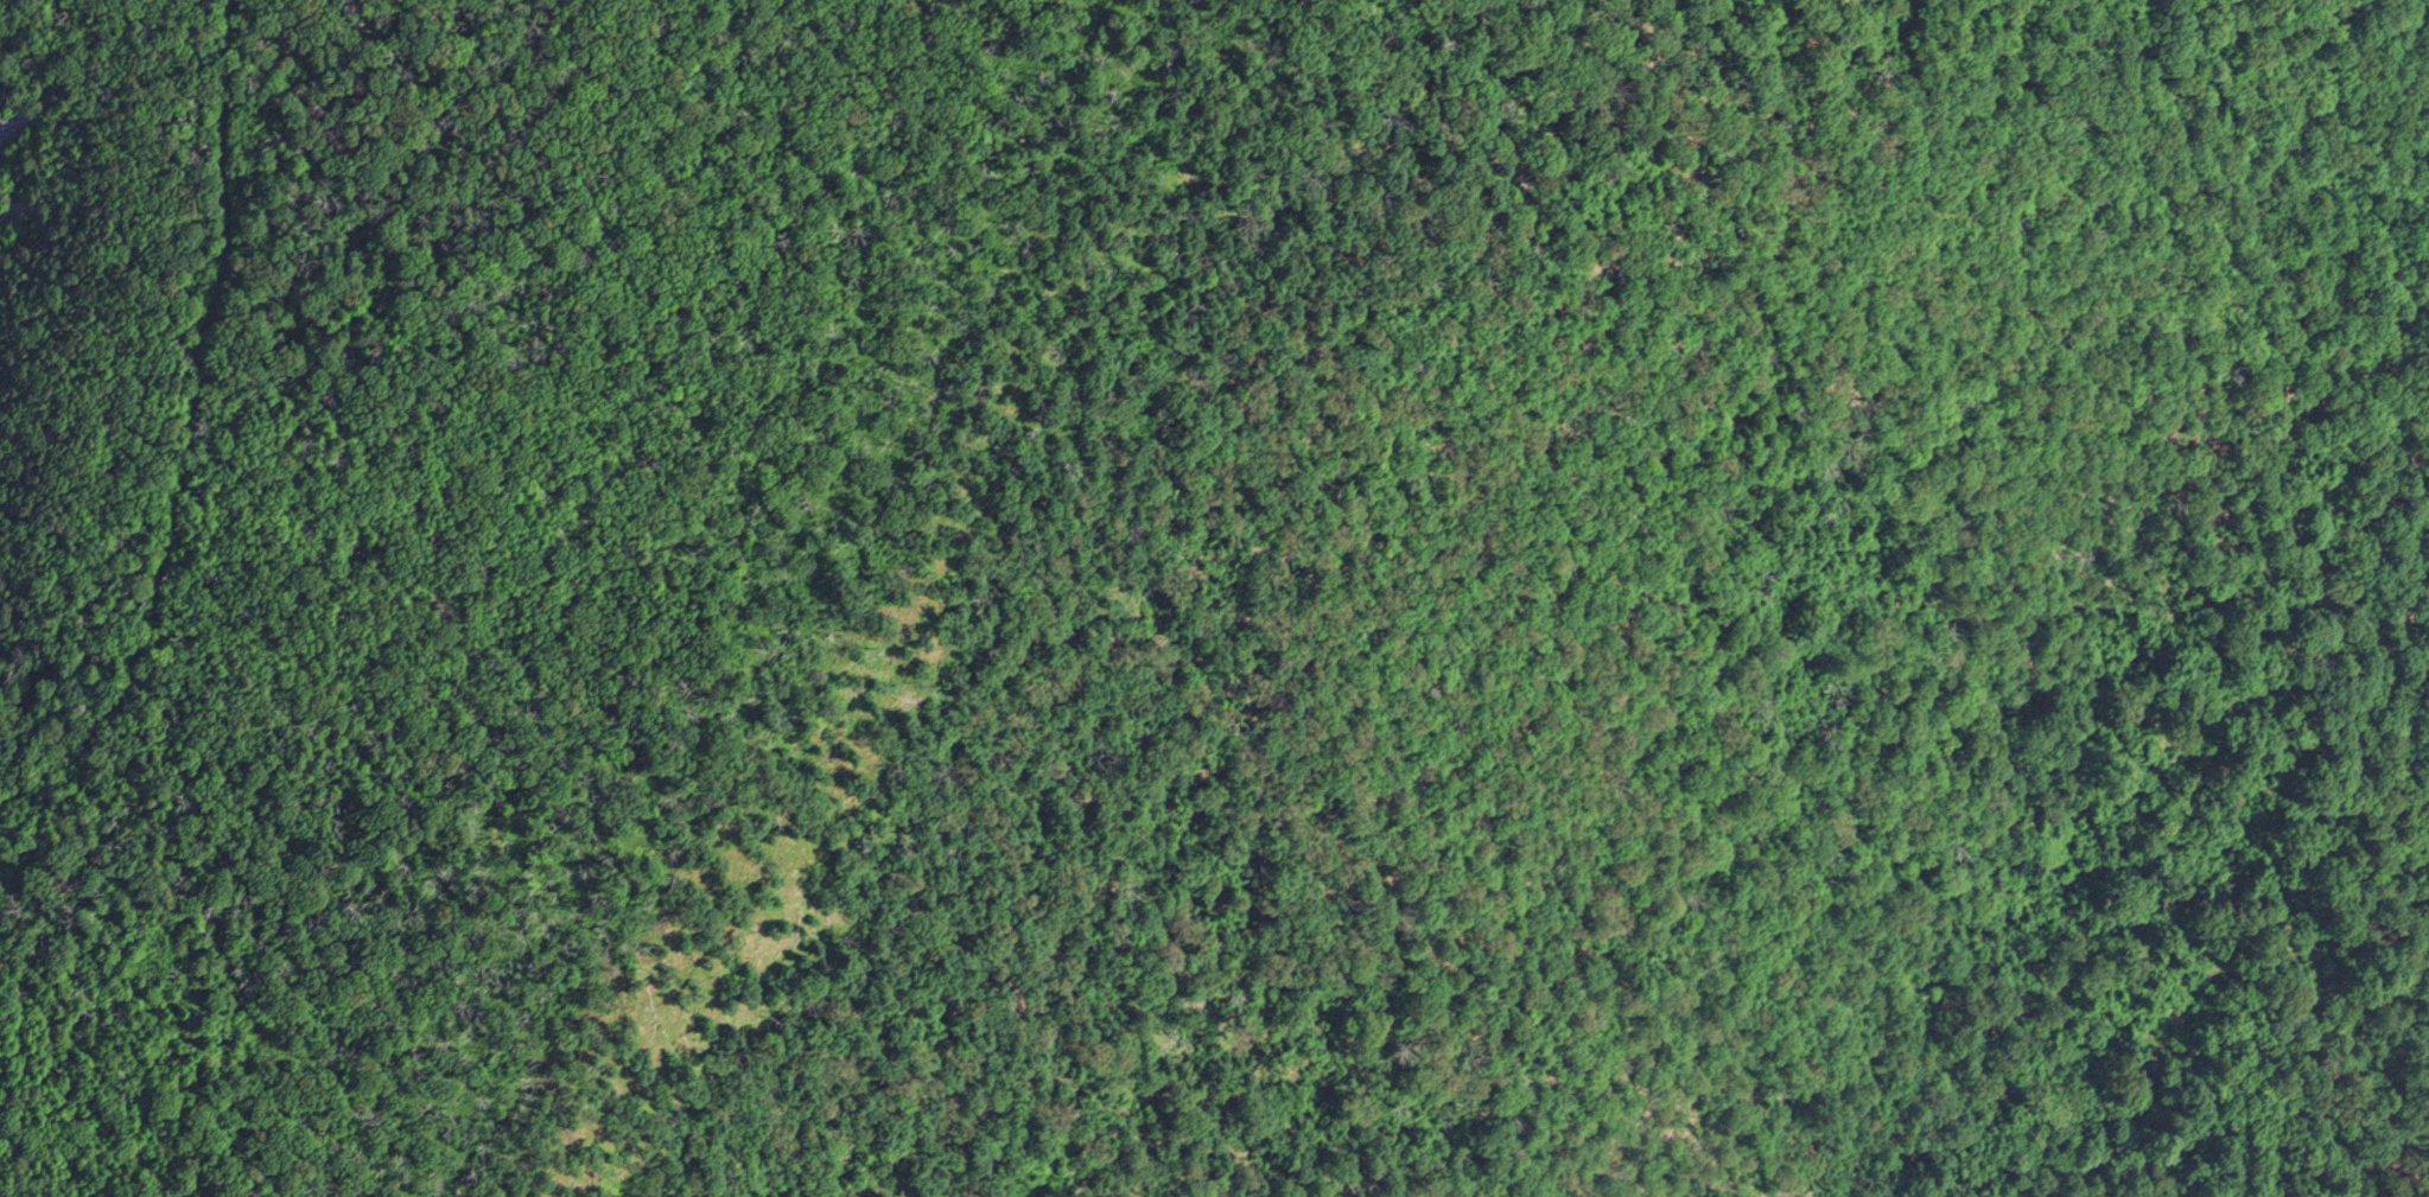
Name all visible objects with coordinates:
road: (193, 368)
road: (786, 603)

